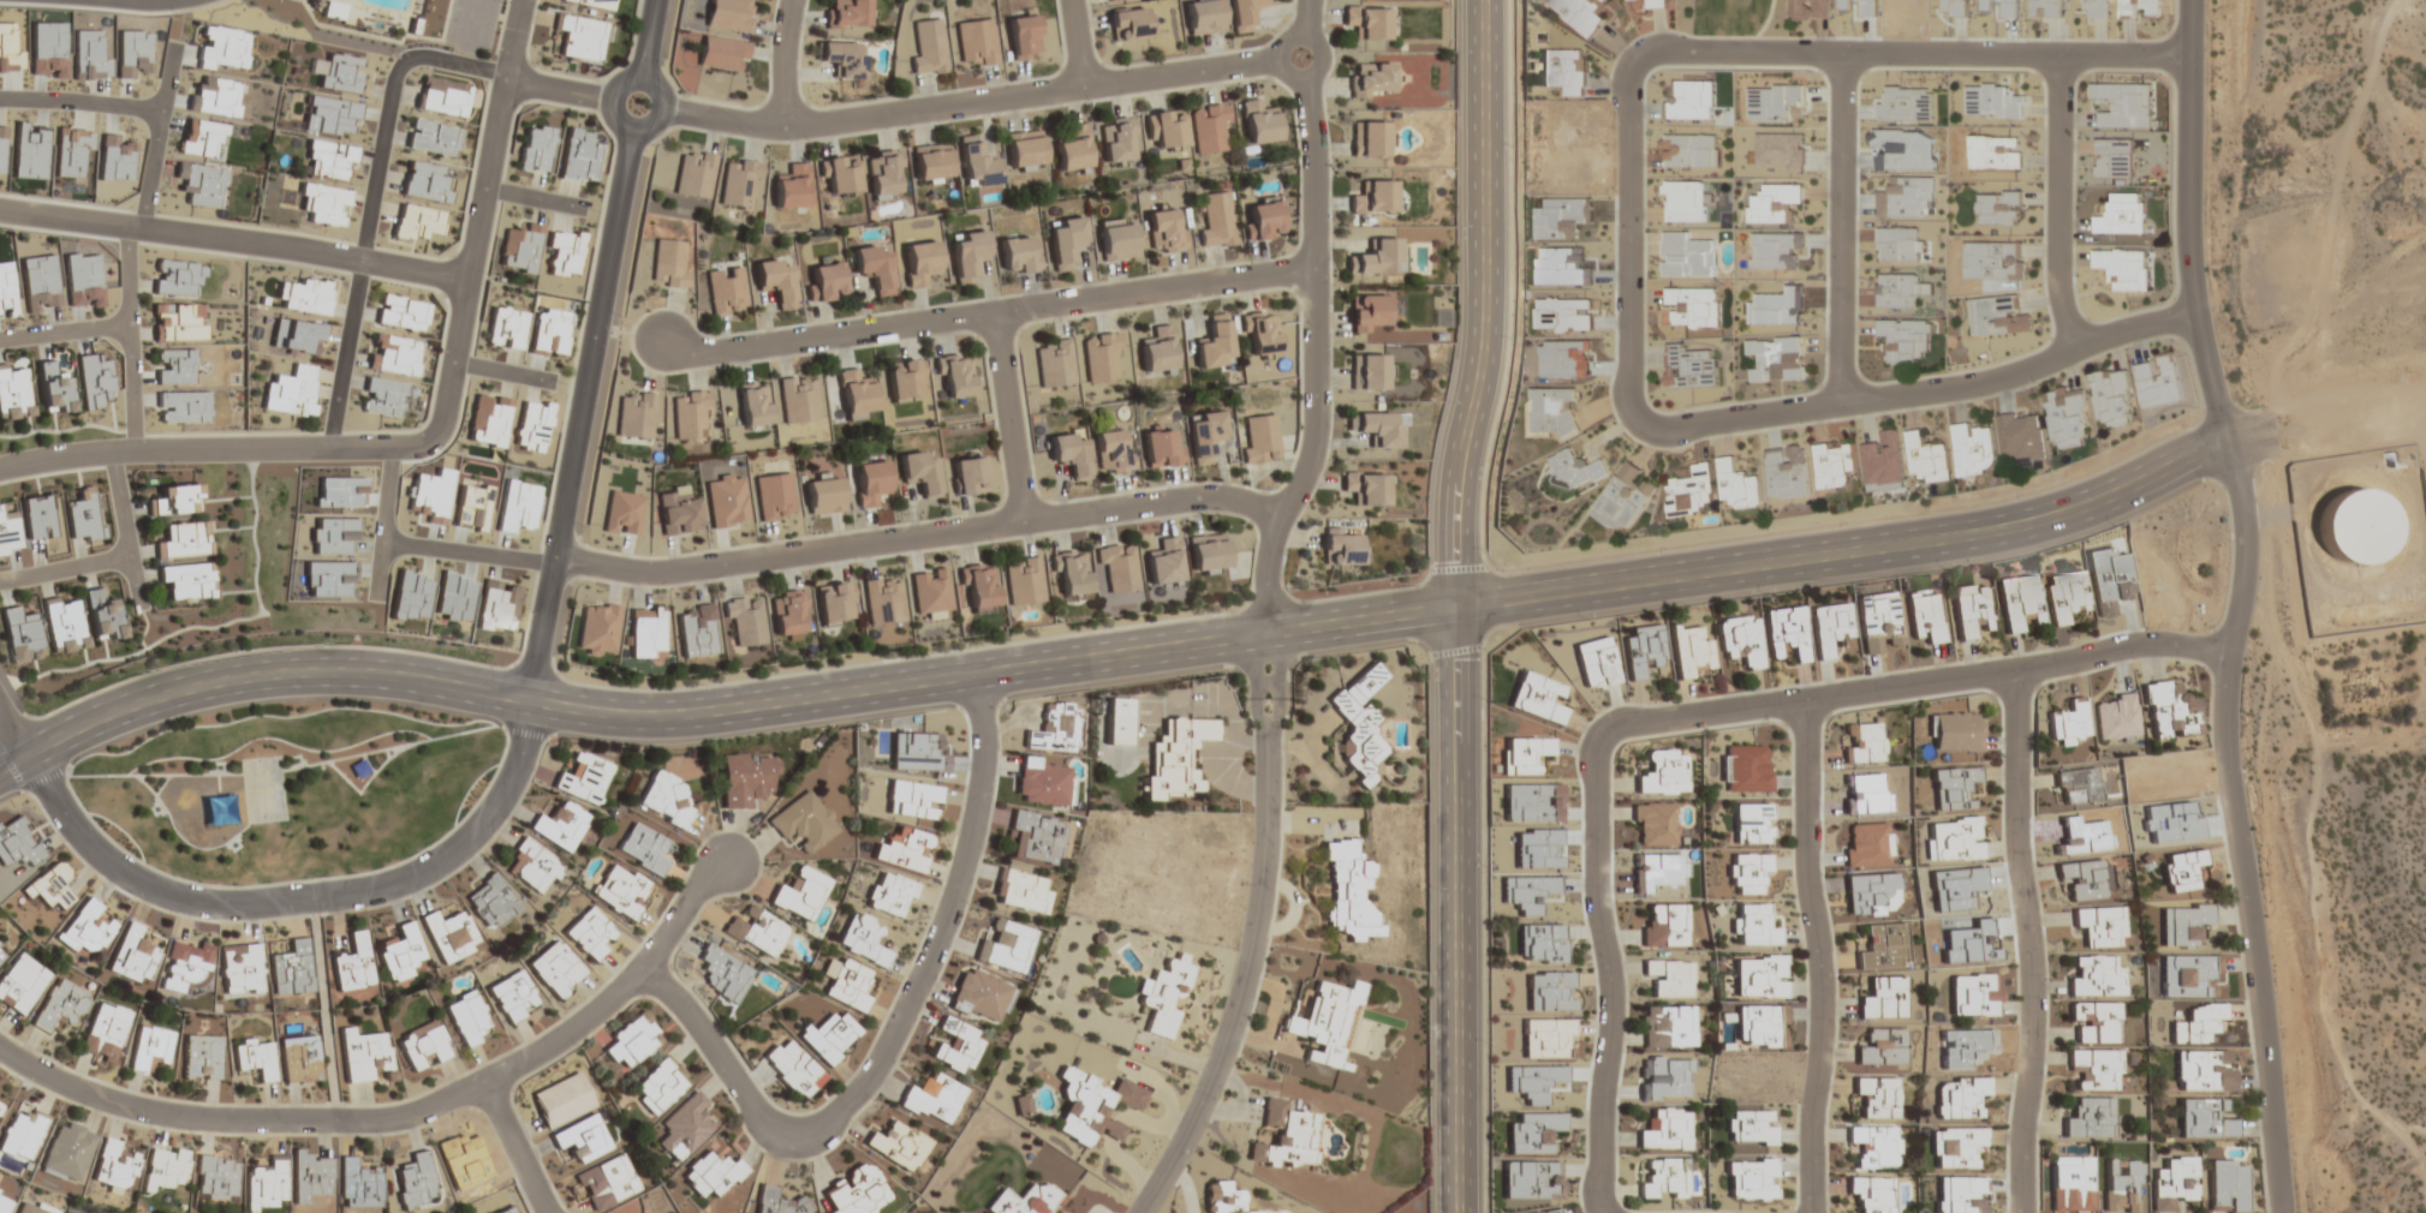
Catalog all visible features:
building: (594, 4)
building: (1657, 4)
building: (2096, 8)
building: (2140, 8)
building: (334, 10)
building: (1810, 10)
street lamp: (179, 13)
building: (848, 13)
building: (1580, 13)
building: (1244, 14)
building: (729, 16)
building: (1203, 17)
road: (1307, 18)
building: (1375, 24)
building: (372, 25)
building: (1128, 25)
street lamp: (1275, 31)
street lamp: (1834, 36)
street lamp: (2069, 36)
building: (580, 37)
building: (1024, 37)
building: (976, 42)
road: (1077, 42)
building: (929, 47)
building: (222, 48)
street lamp: (1454, 50)
building: (721, 55)
building: (842, 58)
street lamp: (1613, 59)
road: (788, 60)
building: (1563, 70)
building: (341, 73)
road: (1301, 77)
building: (1371, 79)
building: (214, 95)
building: (442, 96)
road: (82, 100)
building: (1993, 101)
street lamp: (1090, 103)
building: (2124, 104)
road: (386, 107)
road: (889, 112)
building: (329, 116)
building: (1259, 124)
building: (1210, 130)
building: (1167, 131)
road: (157, 135)
building: (433, 137)
building: (203, 138)
building: (1371, 139)
building: (1117, 141)
building: (1, 147)
street lamp: (1513, 147)
building: (535, 148)
building: (1689, 150)
building: (1073, 151)
building: (1995, 151)
building: (1025, 153)
building: (578, 156)
building: (2114, 157)
building: (328, 161)
building: (931, 166)
building: (977, 166)
building: (695, 174)
building: (840, 175)
building: (883, 177)
building: (427, 183)
building: (202, 184)
building: (740, 185)
building: (792, 187)
road: (525, 195)
building: (1373, 198)
building: (1683, 201)
road: (2058, 202)
building: (1777, 203)
building: (323, 204)
building: (1998, 208)
street lamp: (160, 211)
building: (2122, 214)
building: (1216, 220)
building: (1263, 221)
building: (416, 222)
street lamp: (1455, 226)
street lamp: (1823, 228)
road: (1841, 228)
building: (1164, 229)
road: (230, 239)
building: (1116, 239)
street lamp: (347, 240)
building: (1065, 241)
street lamp: (1610, 241)
building: (1899, 244)
building: (520, 247)
road: (1628, 249)
building: (564, 252)
building: (1019, 255)
building: (967, 256)
building: (1687, 256)
building: (1377, 257)
building: (1995, 259)
building: (668, 263)
building: (920, 263)
building: (874, 268)
building: (2123, 268)
building: (177, 276)
building: (824, 281)
building: (40, 282)
building: (775, 282)
building: (6, 291)
building: (1897, 291)
building: (726, 292)
building: (303, 297)
building: (1695, 306)
building: (401, 312)
building: (1369, 312)
building: (1998, 316)
road: (989, 317)
building: (177, 323)
building: (506, 327)
road: (64, 330)
building: (548, 333)
building: (1262, 333)
building: (296, 335)
road: (130, 336)
street lamp: (1512, 339)
building: (1906, 339)
building: (1214, 342)
road: (595, 349)
building: (1158, 351)
road: (345, 353)
building: (394, 354)
street lamp: (117, 355)
building: (1101, 358)
building: (1778, 358)
road: (1315, 360)
building: (1055, 363)
building: (175, 366)
building: (1689, 366)
road: (497, 369)
building: (1369, 372)
building: (955, 376)
building: (905, 378)
building: (2159, 381)
building: (53, 388)
building: (13, 392)
building: (291, 392)
building: (857, 394)
building: (383, 398)
building: (2114, 398)
building: (799, 399)
street lamp: (1444, 401)
building: (753, 406)
building: (183, 407)
building: (1551, 412)
building: (634, 416)
building: (2068, 416)
building: (689, 417)
road: (1013, 417)
street lamp: (1611, 418)
building: (488, 420)
street lamp: (1807, 425)
road: (2345, 425)
building: (532, 426)
street lamp: (2187, 426)
road: (428, 428)
building: (1377, 428)
building: (1204, 436)
building: (2022, 436)
building: (1259, 438)
building: (1162, 448)
building: (1974, 449)
building: (1111, 452)
building: (1069, 454)
building: (1929, 458)
street lamp: (423, 460)
building: (1834, 462)
building: (1884, 462)
street lamp: (175, 466)
building: (1573, 470)
building: (919, 472)
building: (968, 476)
building: (870, 482)
building: (1741, 484)
building: (1367, 488)
building: (1692, 491)
building: (823, 495)
street lamp: (2021, 495)
building: (774, 497)
building: (1625, 497)
building: (175, 500)
building: (726, 502)
building: (472, 507)
building: (678, 510)
building: (622, 513)
building: (37, 516)
building: (82, 516)
road: (383, 524)
street lamp: (1844, 524)
street lamp: (2112, 525)
building: (2356, 526)
water tower: (2356, 527)
road: (125, 528)
building: (8, 533)
road: (917, 534)
building: (184, 540)
building: (1342, 548)
road: (469, 549)
street lamp: (1664, 549)
street lamp: (1483, 550)
building: (1208, 554)
building: (1164, 563)
road: (65, 568)
building: (1120, 569)
street lamp: (1943, 569)
building: (1072, 575)
building: (189, 581)
building: (1023, 581)
street lamp: (1408, 584)
street lamp: (123, 585)
building: (978, 586)
building: (930, 592)
street lamp: (1763, 593)
building: (411, 596)
building: (2066, 596)
building: (883, 600)
building: (2020, 600)
road: (1456, 604)
building: (834, 605)
road: (2240, 605)
building: (499, 606)
building: (1971, 609)
street lamp: (1227, 610)
building: (788, 615)
building: (102, 616)
building: (1925, 616)
street lamp: (1584, 619)
building: (1877, 620)
building: (745, 621)
building: (62, 625)
building: (1830, 627)
building: (597, 629)
building: (645, 631)
building: (697, 632)
building: (1786, 632)
building: (20, 634)
building: (1740, 641)
street lamp: (244, 649)
road: (1148, 649)
building: (1644, 650)
street lamp: (935, 651)
building: (1691, 651)
street lamp: (2008, 652)
building: (1597, 663)
street lamp: (496, 664)
road: (1277, 682)
street lamp: (697, 683)
road: (1256, 683)
street lamp: (1769, 686)
street lamp: (2210, 686)
building: (1538, 698)
street lamp: (1484, 699)
street lamp: (1265, 711)
building: (2168, 711)
street lamp: (1597, 712)
road: (1677, 716)
building: (2116, 717)
building: (1117, 722)
building: (1358, 723)
building: (2069, 724)
building: (1054, 728)
road: (13, 730)
building: (1954, 731)
street lamp: (256, 742)
building: (1862, 743)
building: (1525, 754)
building: (1175, 755)
road: (13, 760)
street lamp: (375, 760)
building: (1745, 769)
building: (1663, 772)
building: (747, 778)
building: (583, 779)
street lamp: (153, 781)
building: (1043, 782)
building: (2076, 785)
park: (287, 787)
building: (1951, 787)
building: (666, 799)
building: (913, 800)
building: (217, 811)
street lamp: (509, 819)
building: (804, 821)
building: (1752, 823)
building: (1655, 824)
building: (560, 825)
street lamp: (750, 835)
building: (1037, 837)
building: (1953, 838)
building: (18, 843)
building: (1868, 844)
building: (644, 848)
building: (904, 849)
street lamp: (1484, 866)
building: (534, 867)
building: (2181, 870)
building: (1747, 872)
building: (2087, 878)
street lamp: (1244, 884)
building: (49, 886)
street lamp: (1427, 888)
building: (621, 890)
building: (1348, 890)
building: (1020, 891)
building: (800, 894)
building: (1872, 894)
building: (890, 895)
street lamp: (2230, 897)
road: (299, 898)
building: (490, 901)
street lamp: (970, 903)
street lamp: (365, 910)
street lamp: (2008, 913)
street lamp: (174, 916)
building: (2183, 924)
building: (1665, 926)
building: (1753, 926)
building: (2102, 926)
building: (89, 927)
building: (757, 931)
building: (590, 933)
building: (449, 936)
building: (864, 940)
road: (2029, 940)
building: (1542, 943)
building: (1006, 946)
building: (1883, 946)
street lamp: (1801, 950)
building: (1, 955)
building: (400, 955)
road: (1819, 955)
building: (132, 956)
building: (353, 964)
building: (185, 967)
street lamp: (1592, 968)
building: (240, 969)
building: (291, 969)
building: (556, 969)
building: (723, 974)
building: (2189, 974)
building: (1760, 976)
building: (2096, 976)
building: (1670, 978)
building: (20, 982)
building: (846, 984)
road: (1242, 984)
building: (1550, 991)
building: (1973, 994)
building: (980, 996)
building: (1166, 996)
building: (514, 997)
building: (1883, 998)
building: (60, 1006)
road: (317, 1008)
building: (469, 1018)
building: (1328, 1022)
building: (2096, 1022)
building: (2198, 1023)
building: (1667, 1027)
building: (1760, 1027)
road: (893, 1030)
building: (105, 1033)
building: (829, 1036)
building: (1546, 1038)
building: (631, 1040)
street lamp: (1485, 1042)
building: (423, 1046)
street lamp: (579, 1046)
building: (956, 1046)
building: (150, 1047)
building: (1882, 1047)
building: (363, 1054)
building: (255, 1057)
building: (202, 1058)
building: (299, 1059)
building: (792, 1069)
building: (2096, 1069)
building: (2204, 1070)
street lamp: (1191, 1083)
building: (658, 1086)
building: (1878, 1097)
building: (1961, 1097)
street lamp: (872, 1099)
building: (934, 1099)
building: (562, 1100)
building: (1021, 1105)
building: (0, 1106)
building: (1093, 1106)
road: (404, 1113)
building: (2090, 1118)
building: (2205, 1119)
street lamp: (1429, 1125)
building: (686, 1127)
building: (1751, 1127)
street lamp: (794, 1129)
building: (1667, 1129)
building: (1534, 1133)
building: (22, 1134)
street lamp: (195, 1134)
building: (1286, 1135)
street lamp: (381, 1136)
building: (582, 1139)
building: (899, 1146)
building: (1876, 1146)
road: (514, 1147)
building: (1956, 1147)
building: (68, 1151)
building: (113, 1166)
building: (165, 1167)
building: (713, 1170)
building: (309, 1176)
building: (215, 1178)
building: (1665, 1178)
building: (1531, 1179)
building: (1750, 1179)
building: (413, 1181)
building: (607, 1182)
street lamp: (552, 1183)
building: (2072, 1183)
building: (2175, 1183)
building: (266, 1184)
building: (358, 1184)
building: (2229, 1185)
building: (2123, 1187)
building: (858, 1193)
building: (1871, 1194)
building: (1223, 1197)
street lamp: (1794, 1197)
building: (1025, 1200)
building: (777, 1201)
building: (4, 1202)
building: (32, 1207)
building: (506, 1209)
street lamp: (2004, 1211)
building: (1550, 1212)

